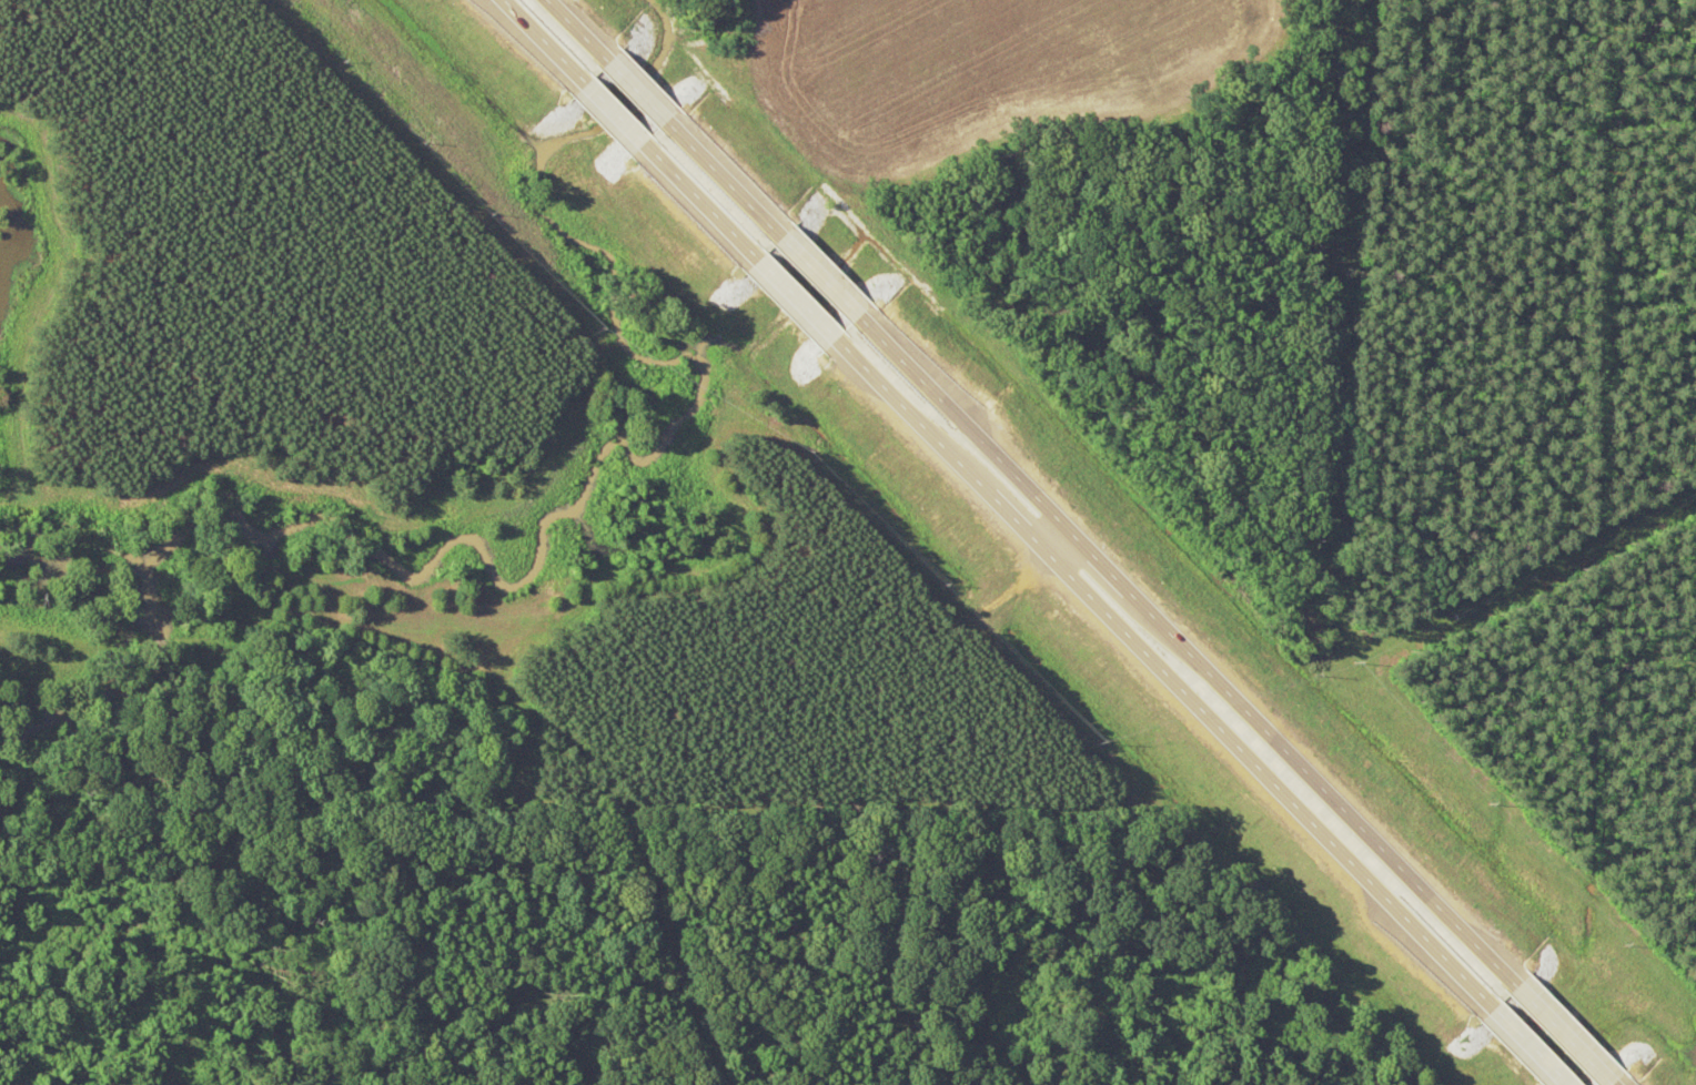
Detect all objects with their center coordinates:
road: (573, 32)
road: (537, 44)
road: (635, 95)
road: (610, 119)
road: (723, 183)
road: (698, 206)
road: (818, 280)
road: (795, 304)
road: (1056, 546)
road: (1184, 655)
road: (1163, 676)
road: (1561, 1037)
road: (1526, 1048)

